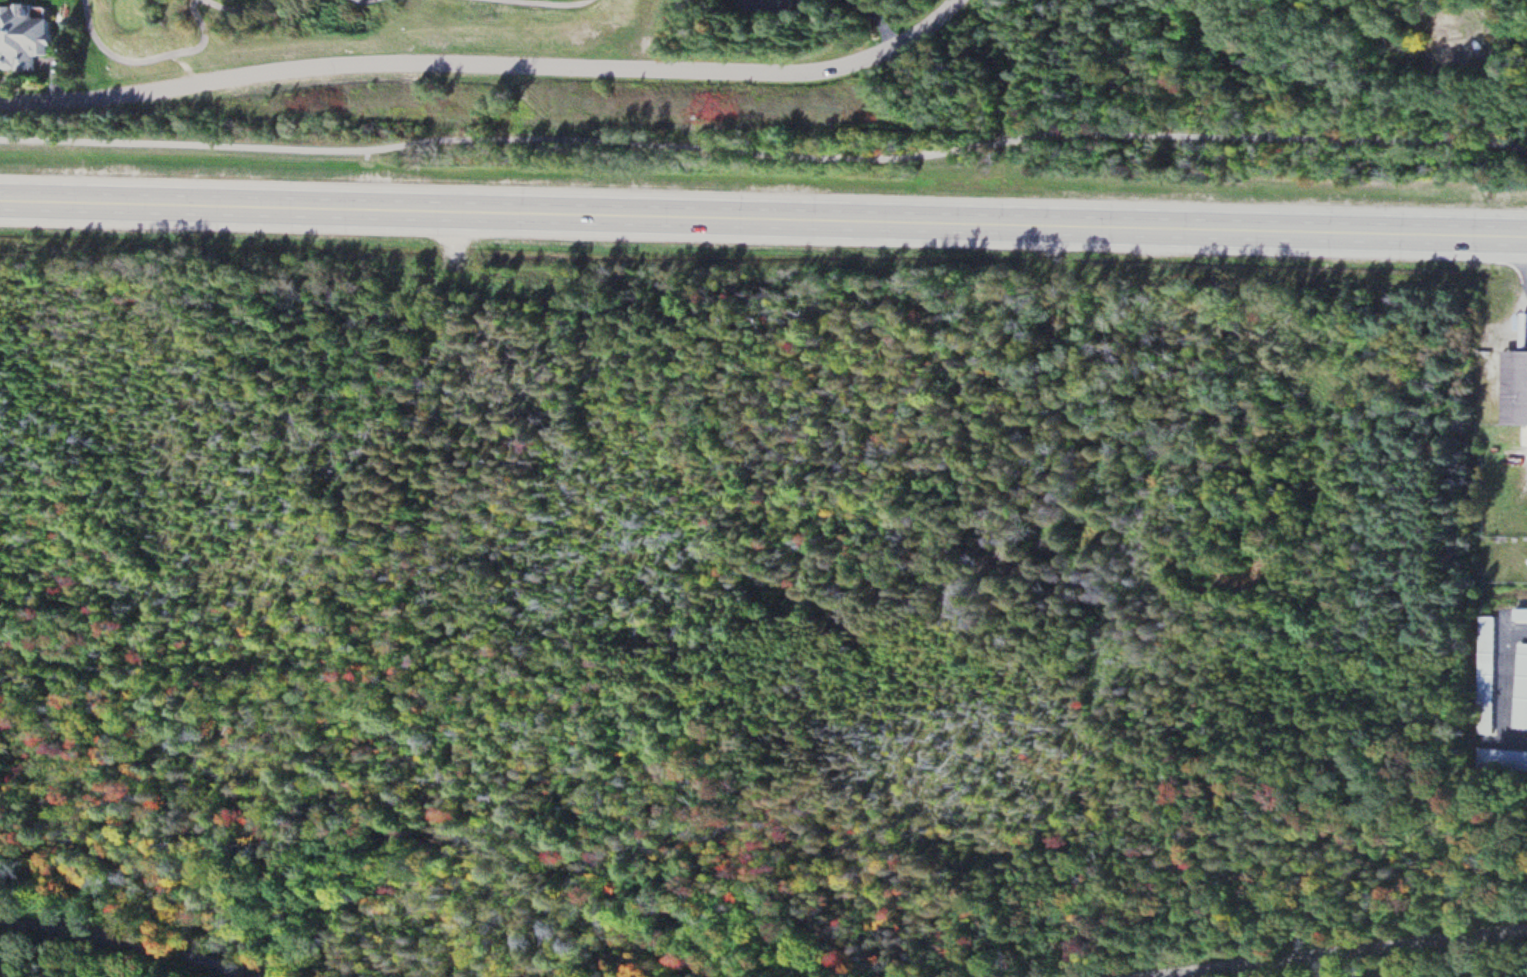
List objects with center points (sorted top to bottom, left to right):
road: (240, 2)
park: (334, 24)
building: (26, 38)
park: (1517, 47)
road: (154, 53)
road: (189, 65)
road: (489, 69)
road: (763, 150)
road: (763, 218)
building: (1517, 388)
building: (1522, 614)
building: (1488, 675)
road: (1506, 686)
building: (1522, 689)
building: (1502, 760)
road: (125, 943)
road: (1340, 953)

